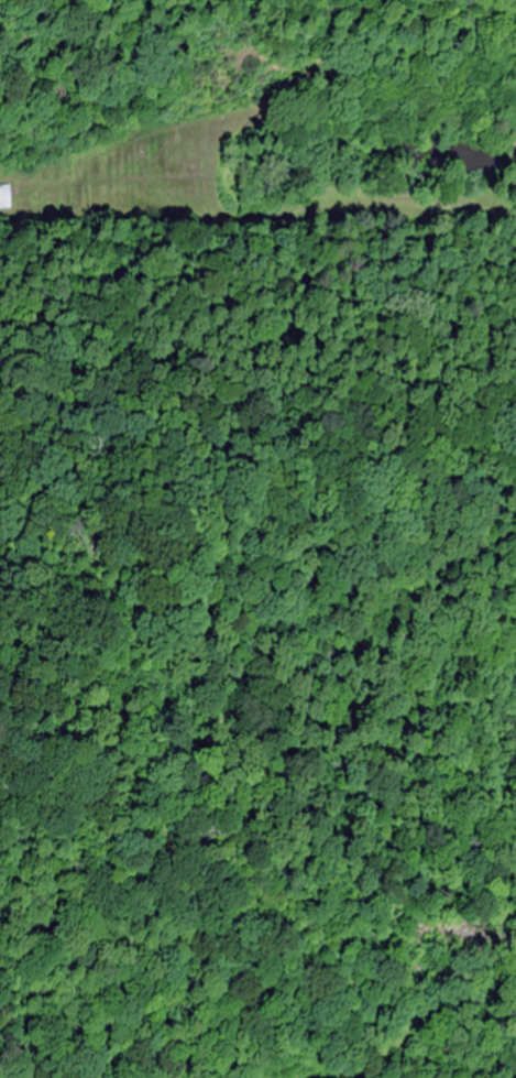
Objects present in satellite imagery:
building: (8, 202)

